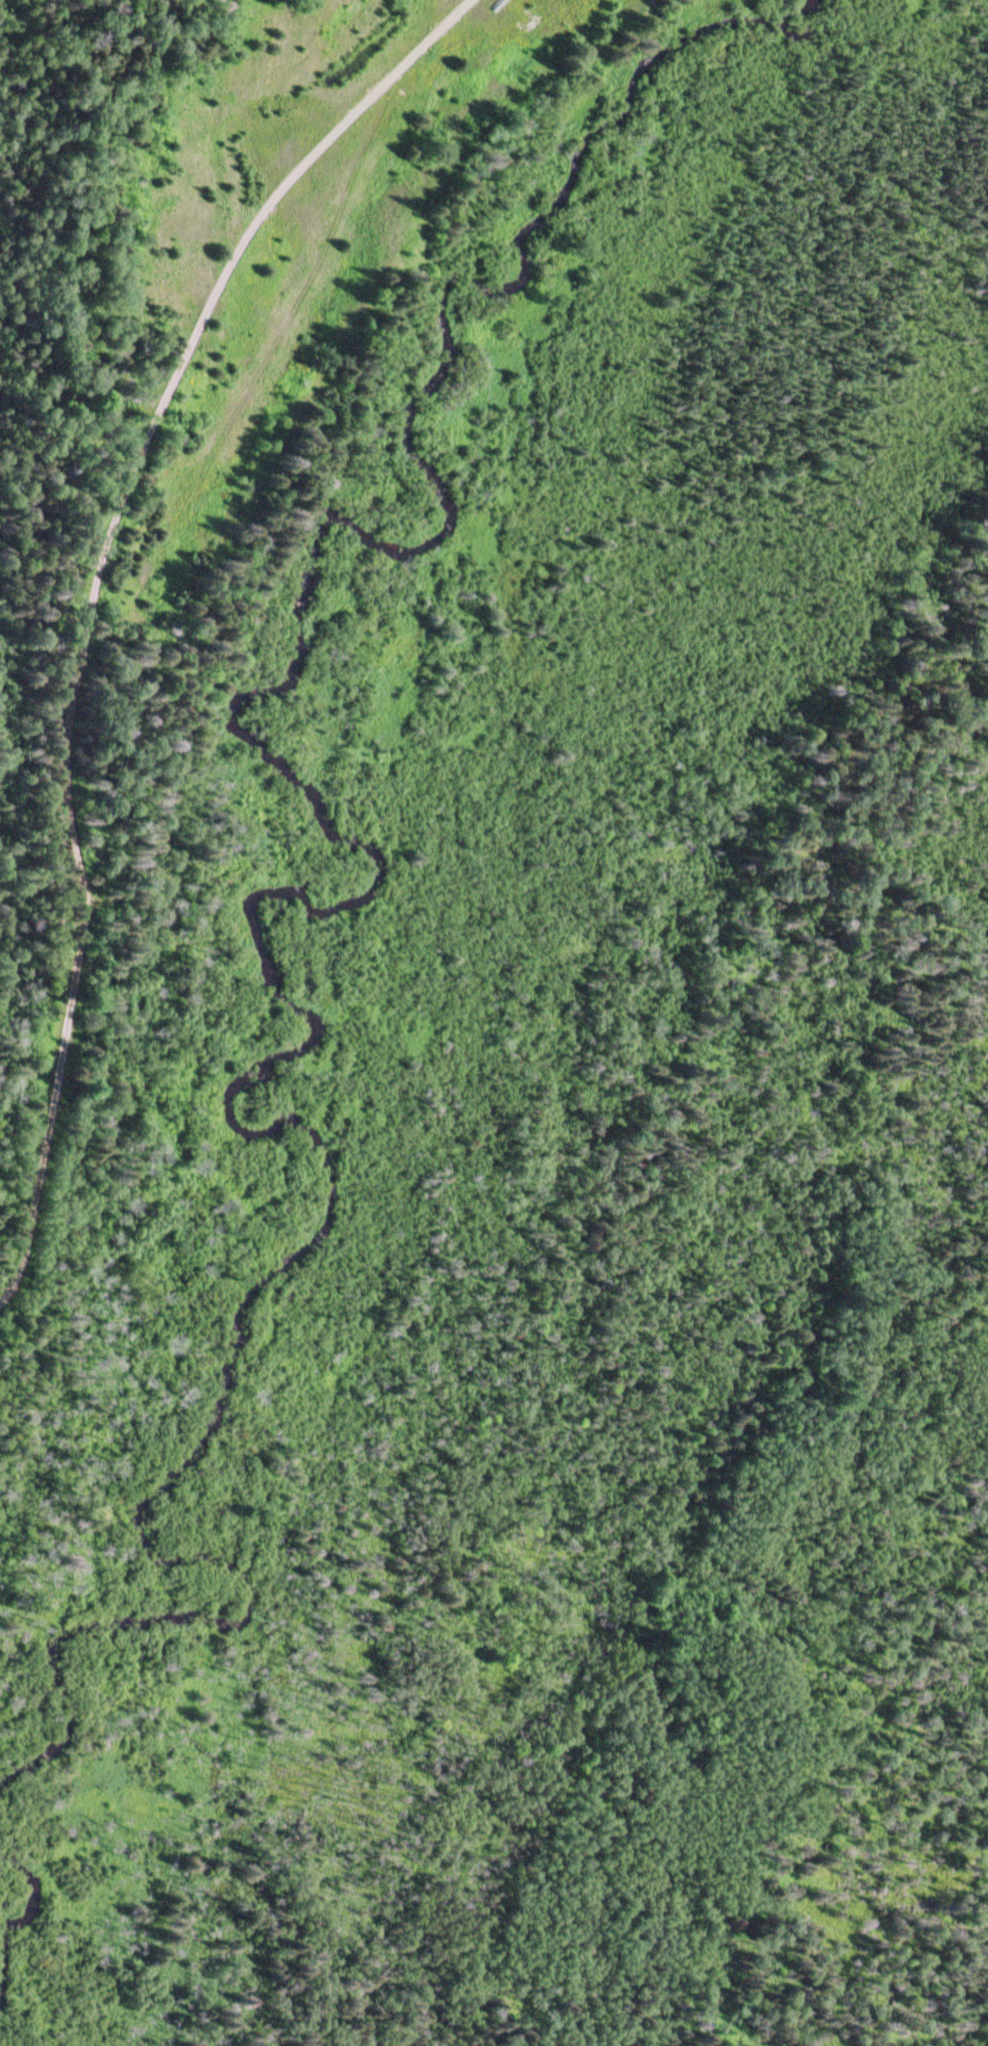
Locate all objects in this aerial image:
road: (414, 58)

